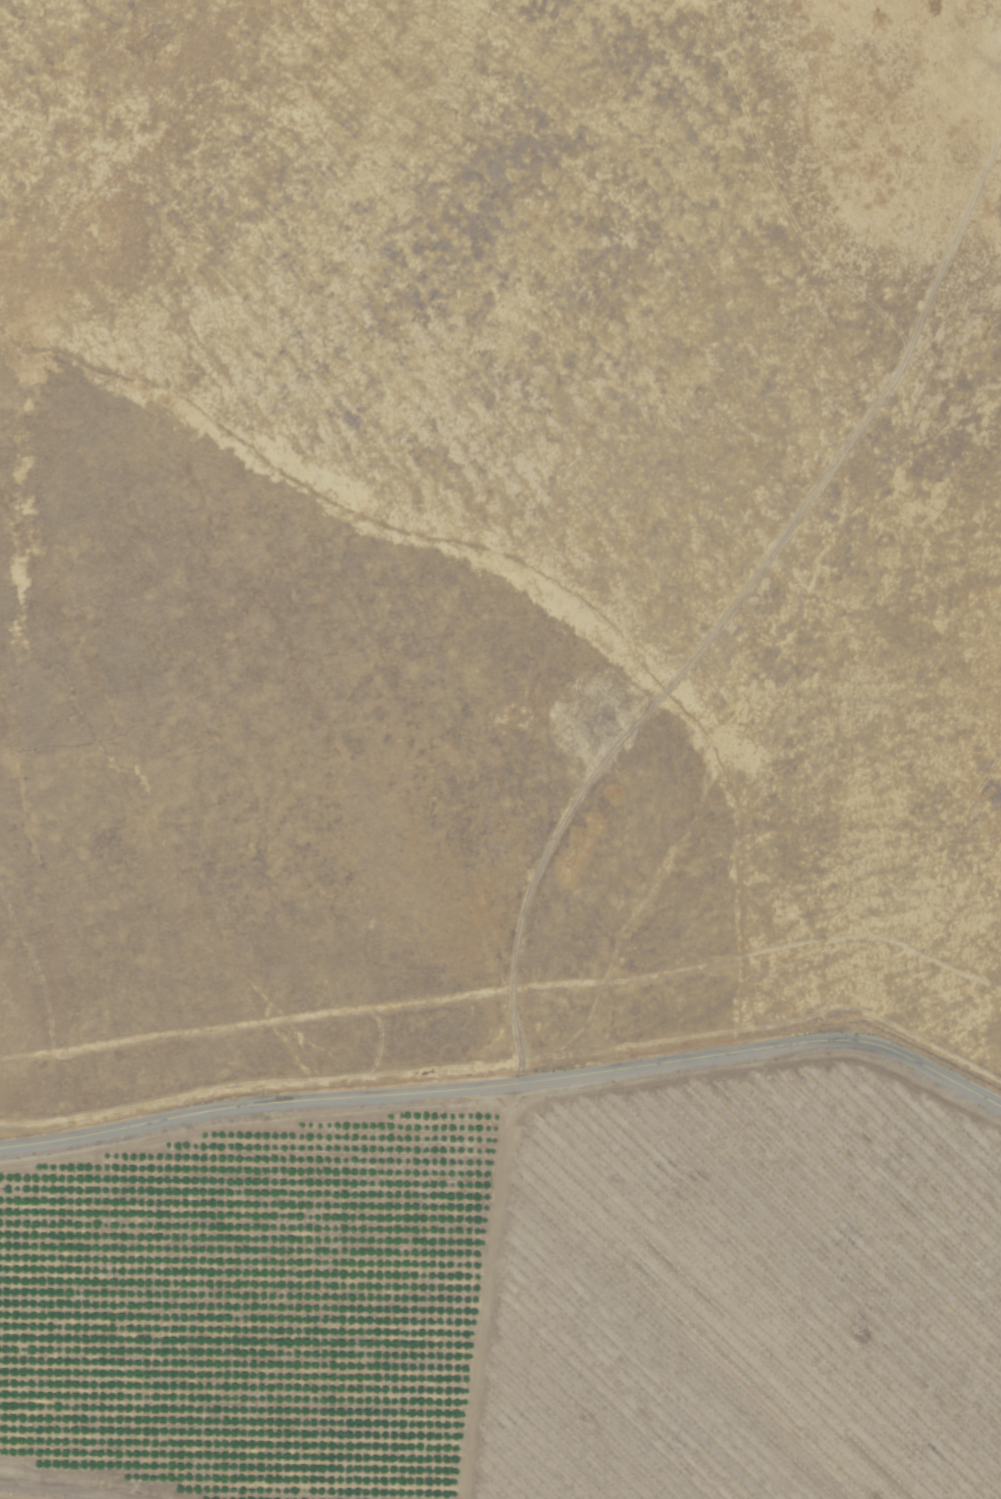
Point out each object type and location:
road: (507, 1084)

